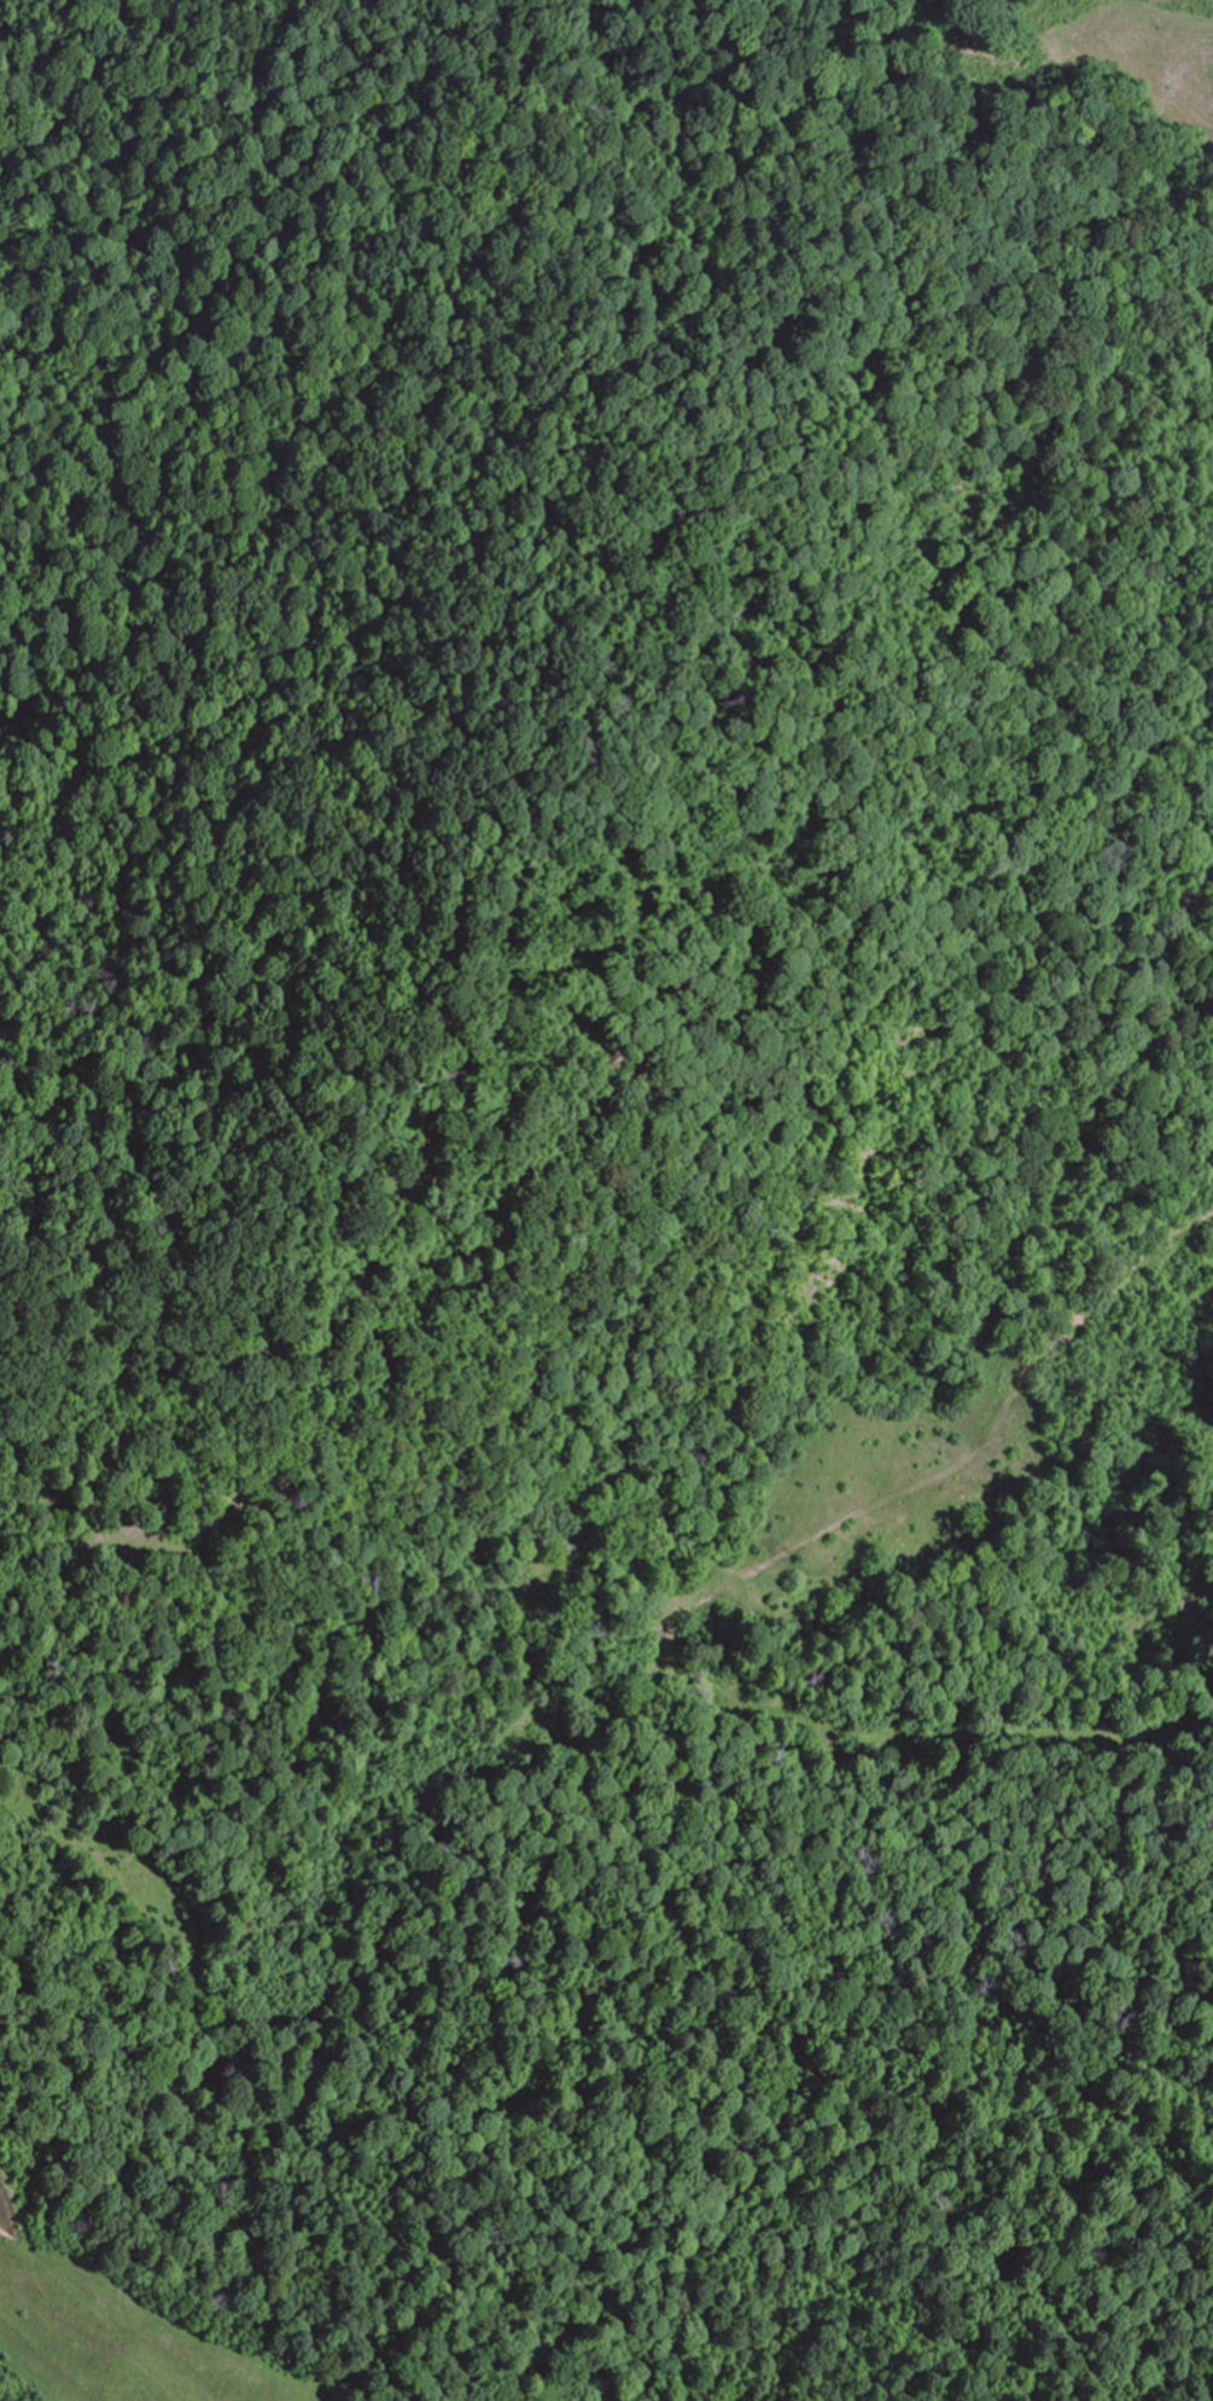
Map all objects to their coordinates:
road: (1005, 1405)
road: (855, 1593)
road: (515, 2268)

